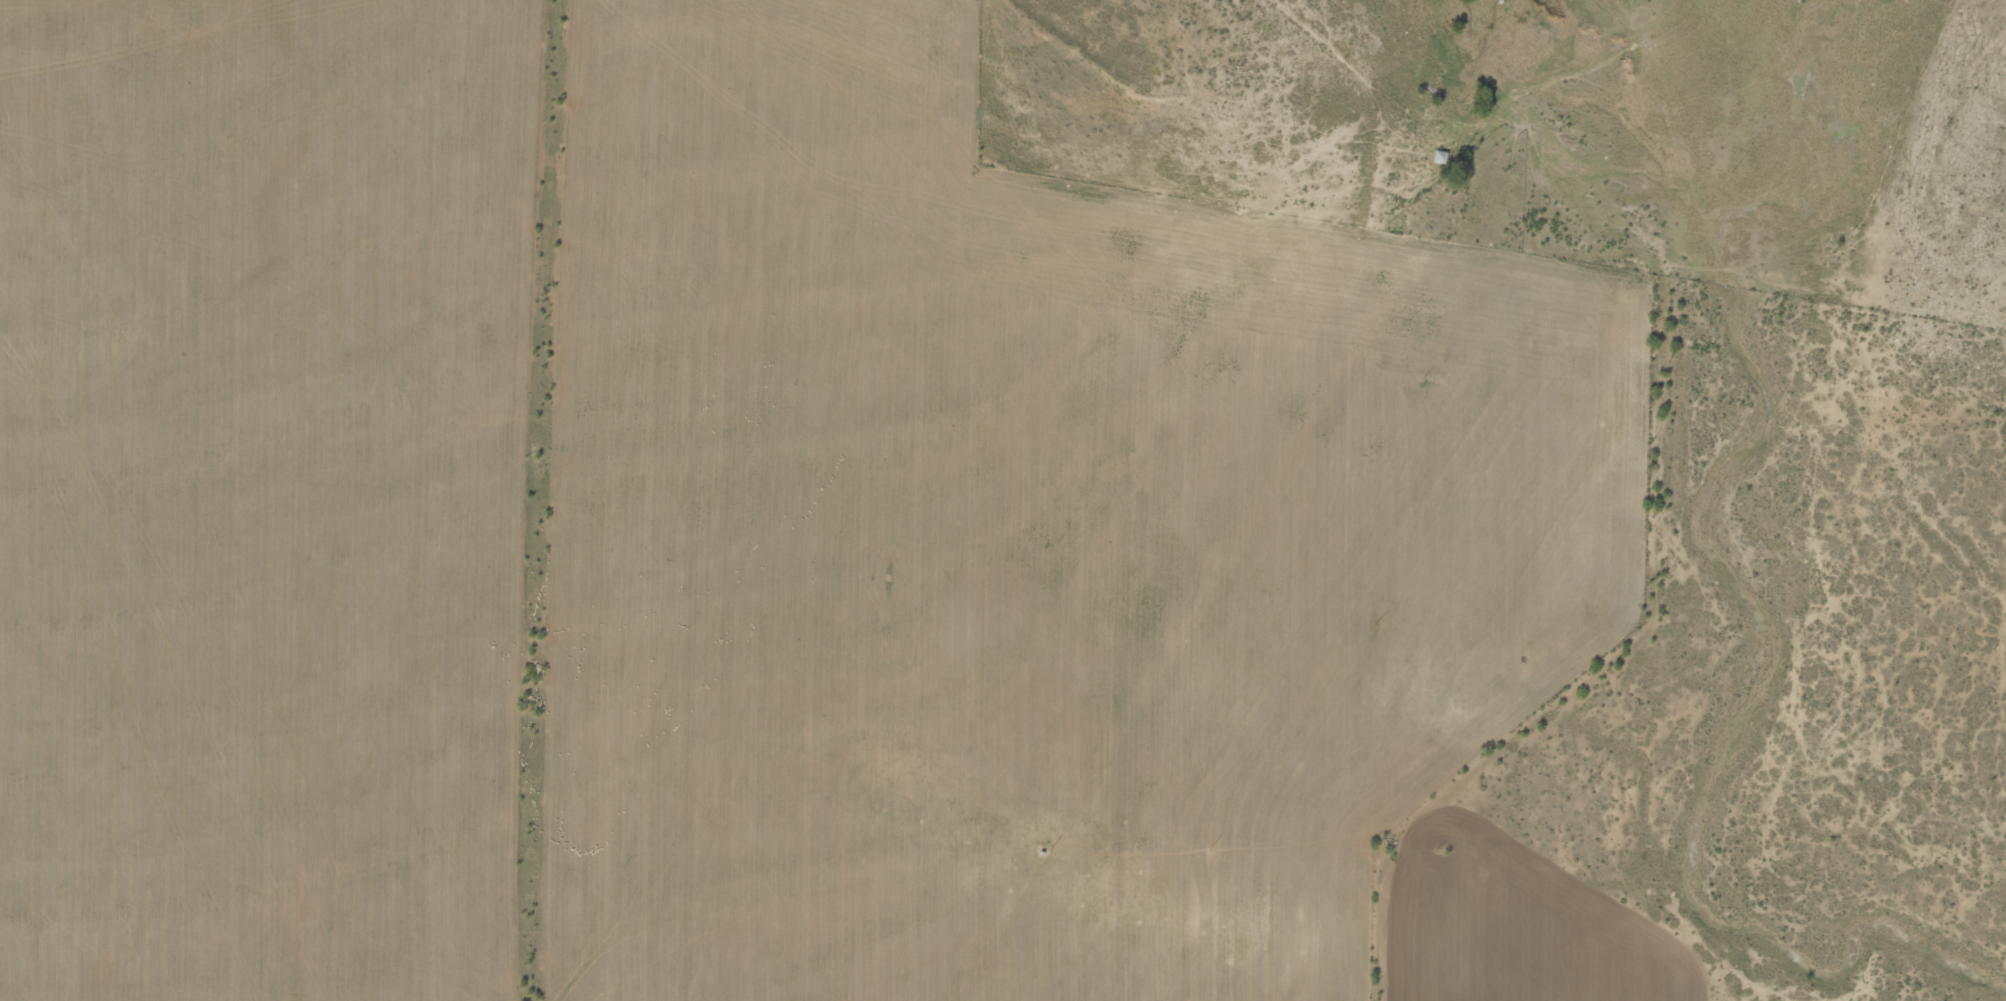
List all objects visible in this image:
building: (1441, 157)

